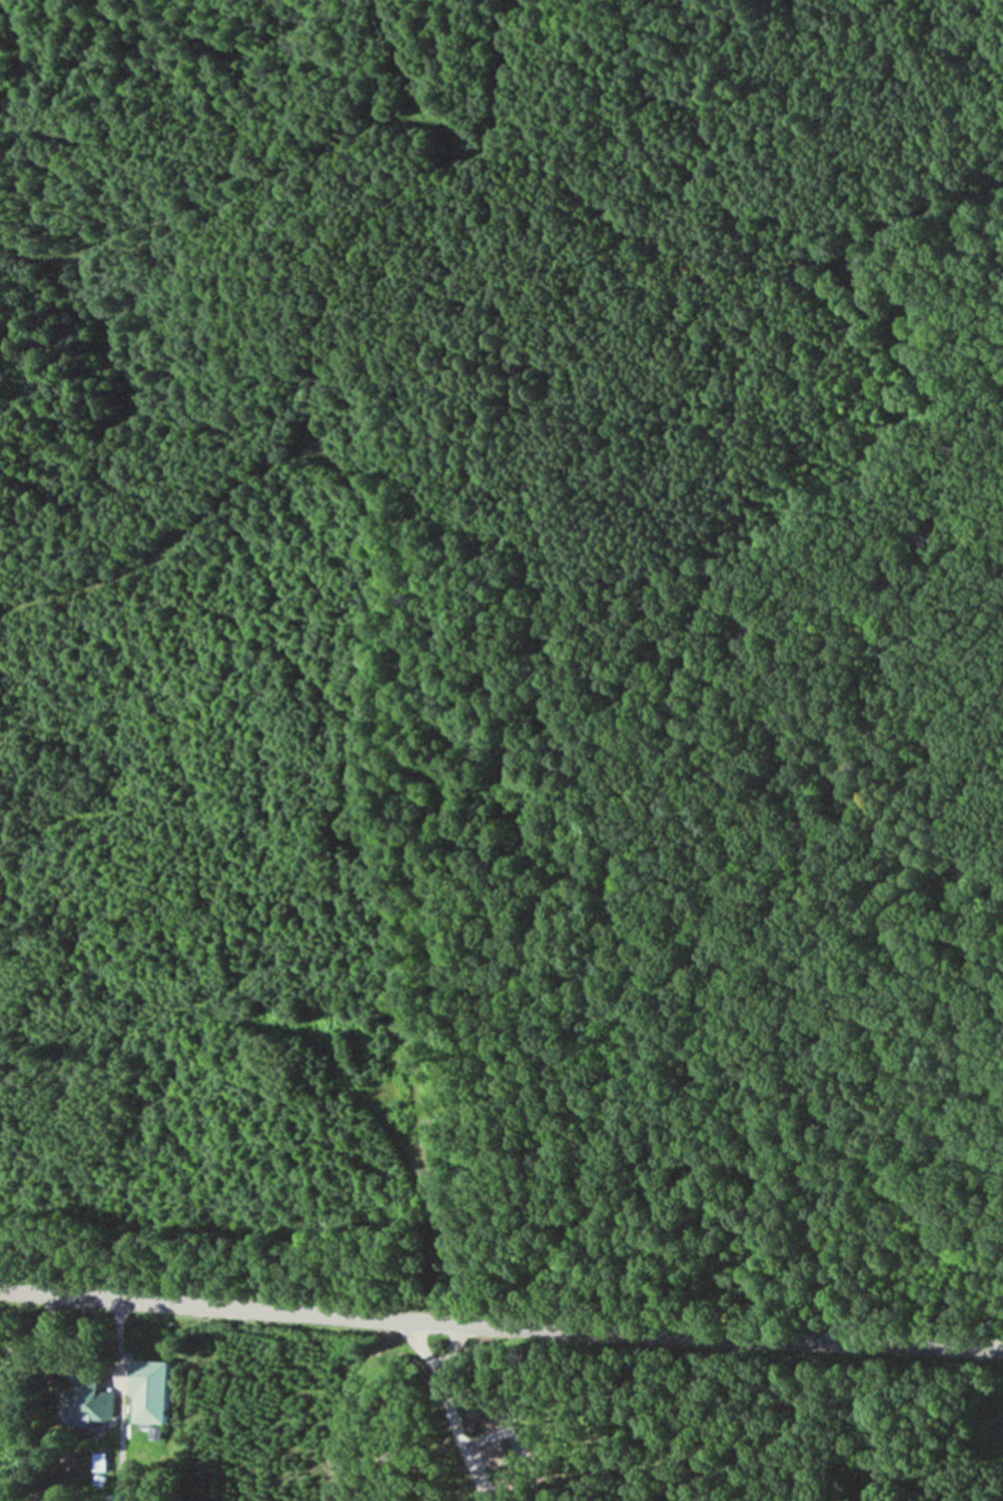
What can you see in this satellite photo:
road: (501, 1325)
building: (154, 1392)
road: (119, 1401)
building: (87, 1402)
road: (448, 1411)

